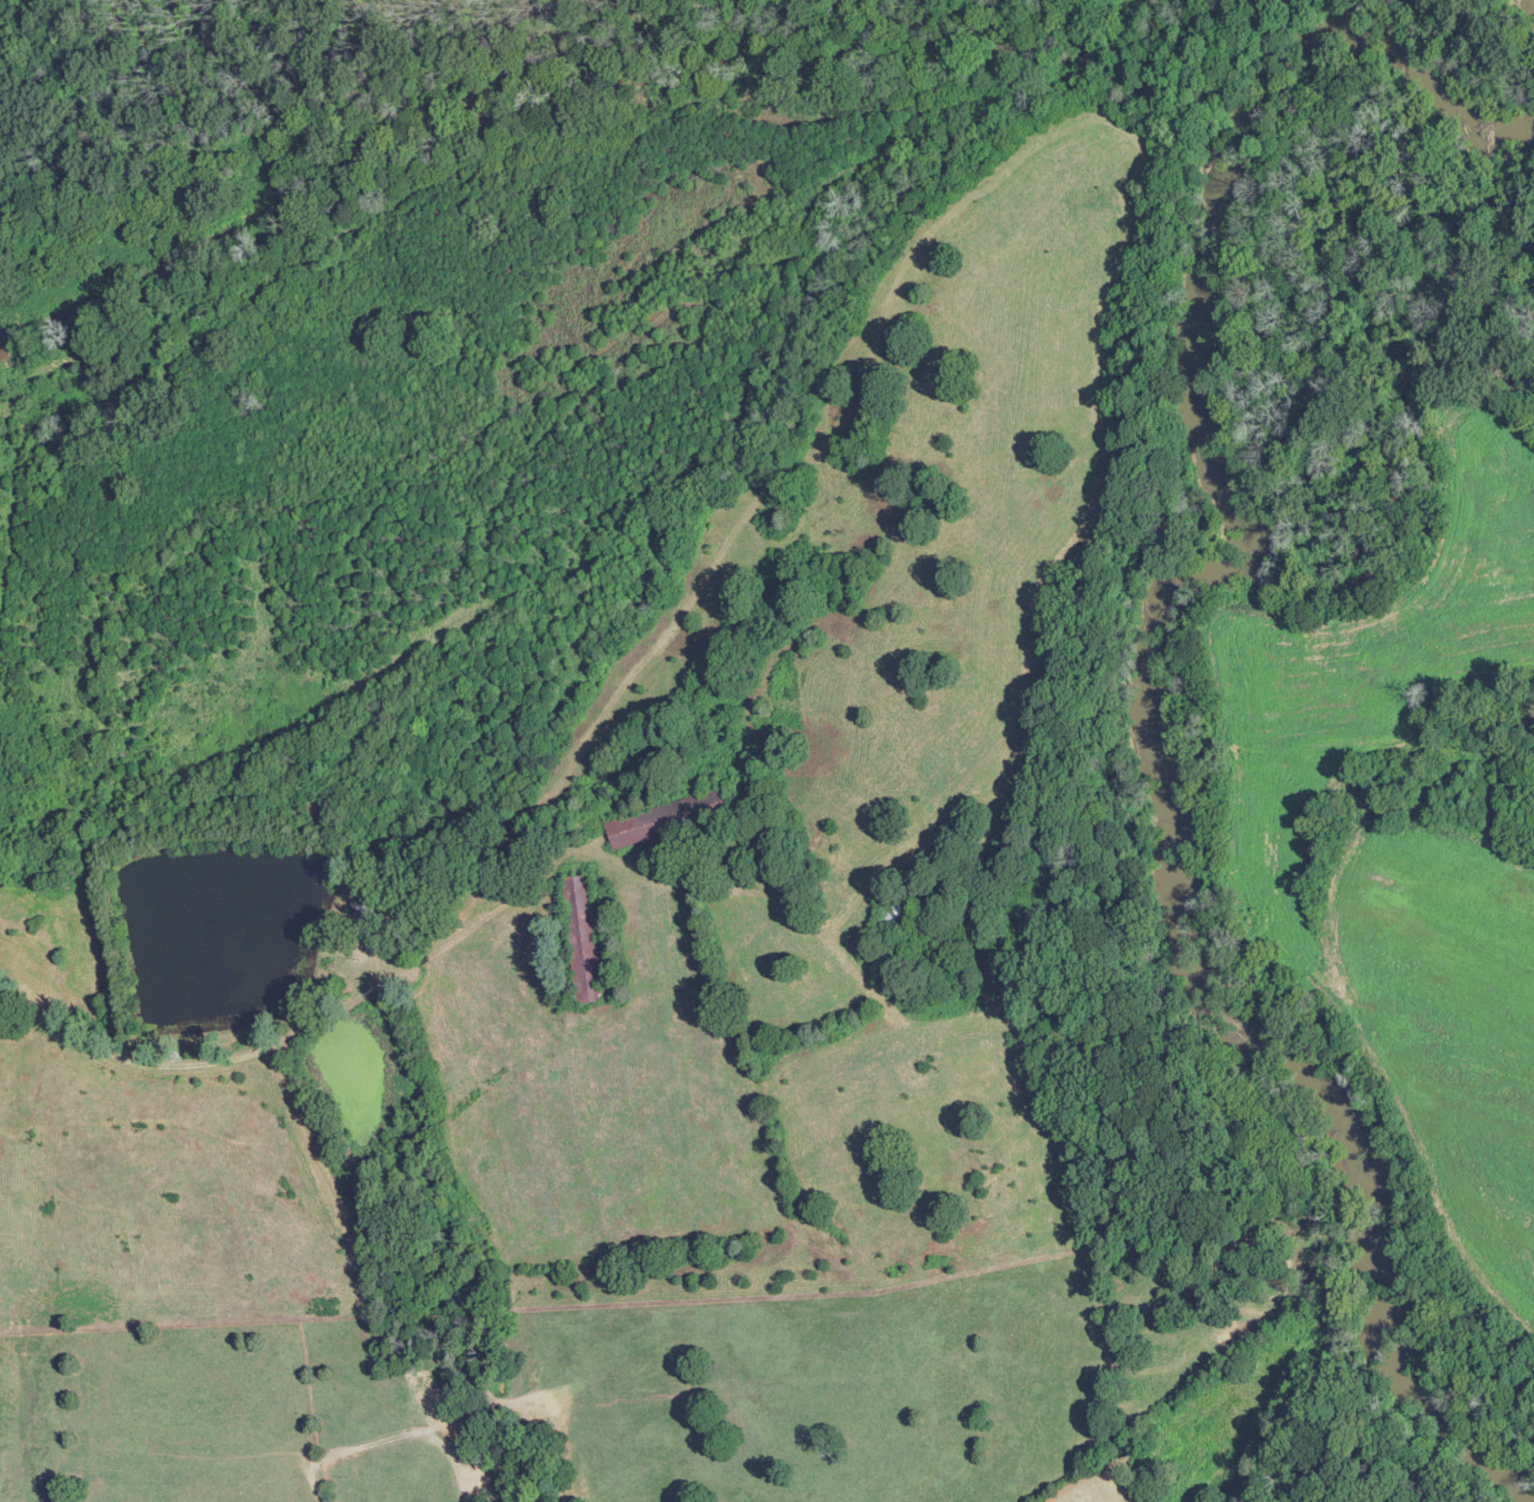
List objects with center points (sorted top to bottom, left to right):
river: (1397, 436)
building: (639, 828)
building: (897, 908)
road: (321, 1018)
river: (1250, 1023)
road: (393, 1430)

